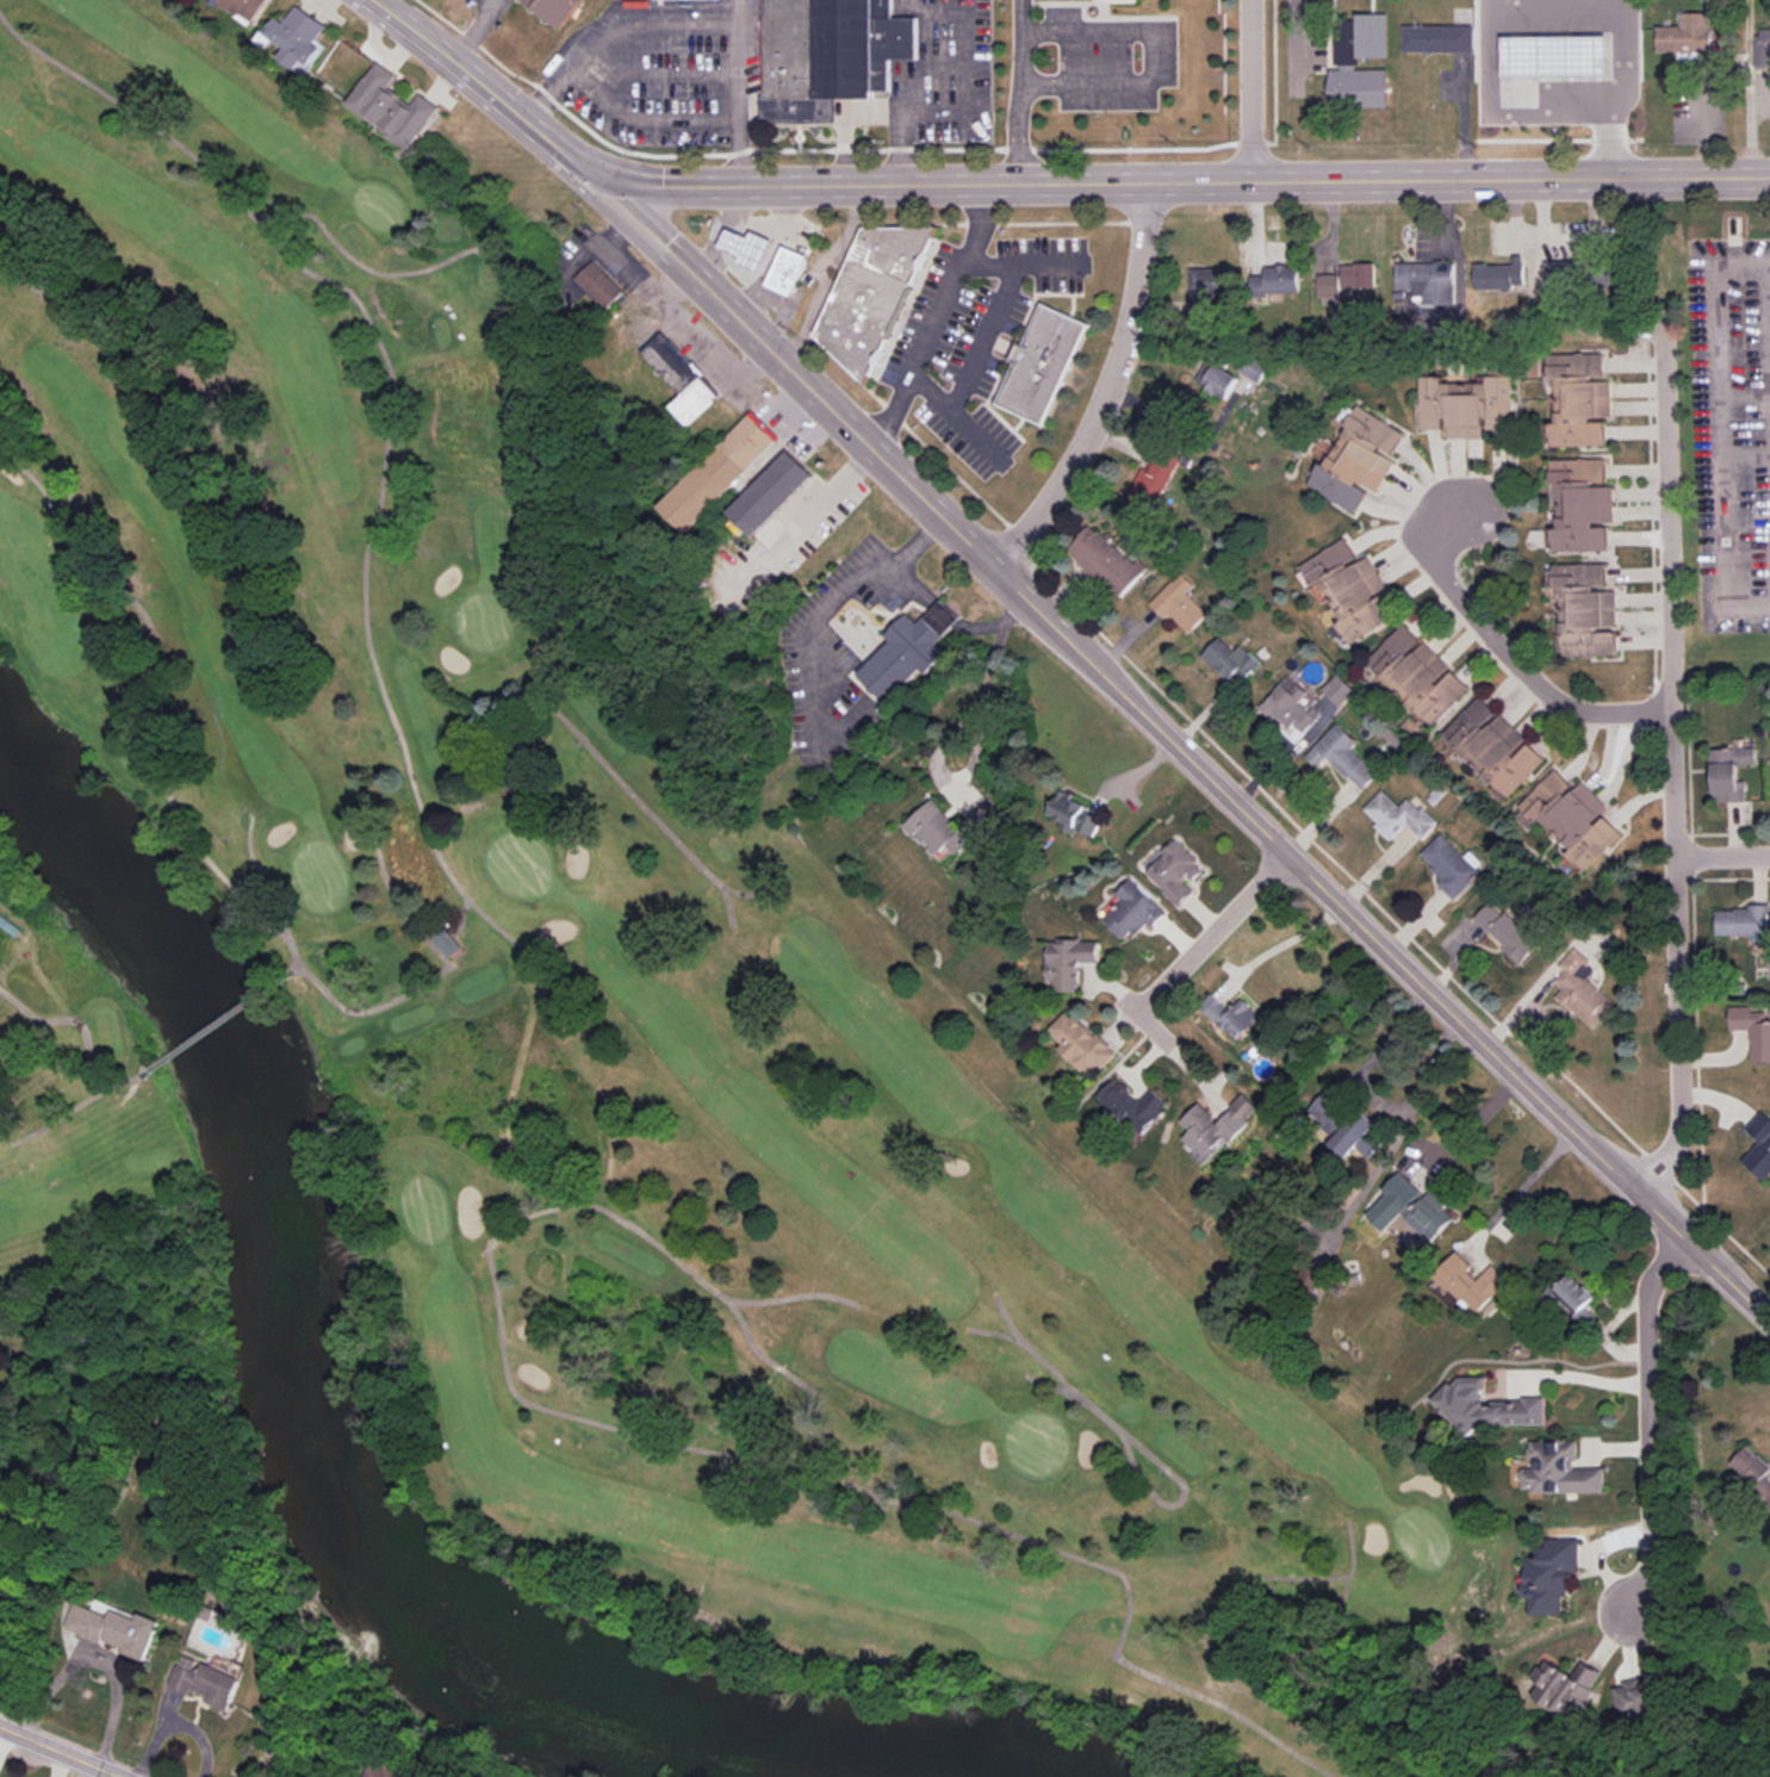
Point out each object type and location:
building: (579, 0)
building: (683, 0)
road: (368, 1)
building: (1113, 1)
building: (249, 7)
road: (1529, 7)
building: (554, 10)
road: (1019, 15)
road: (691, 25)
road: (471, 32)
building: (1687, 35)
building: (299, 38)
building: (1437, 38)
building: (1763, 48)
building: (1552, 54)
building: (827, 56)
road: (1148, 57)
building: (1344, 64)
road: (484, 91)
road: (1253, 91)
building: (393, 106)
road: (943, 106)
road: (1018, 107)
road: (1459, 179)
traffic signals: (607, 182)
road: (877, 185)
building: (745, 249)
road: (1048, 265)
building: (785, 272)
building: (1559, 272)
road: (827, 274)
building: (1499, 274)
building: (1275, 280)
building: (1346, 281)
building: (1428, 281)
building: (597, 286)
building: (1210, 288)
building: (870, 294)
road: (932, 316)
road: (981, 341)
building: (1039, 366)
building: (1255, 367)
road: (800, 377)
building: (1217, 379)
building: (679, 380)
road: (1110, 391)
building: (1579, 399)
building: (1465, 405)
road: (975, 436)
road: (1719, 436)
building: (1358, 459)
building: (719, 473)
building: (1149, 485)
building: (769, 495)
building: (1582, 504)
road: (808, 518)
building: (1105, 560)
road: (915, 585)
building: (1349, 589)
building: (1180, 603)
building: (1584, 609)
road: (944, 615)
road: (815, 619)
road: (994, 626)
road: (1503, 646)
building: (908, 651)
building: (1230, 661)
building: (1418, 675)
building: (1339, 689)
road: (950, 735)
building: (1493, 746)
building: (1342, 756)
road: (1670, 766)
building: (1729, 773)
building: (1073, 814)
building: (1397, 815)
building: (1571, 819)
building: (952, 826)
road: (1724, 860)
building: (1452, 864)
building: (1175, 872)
building: (1132, 911)
building: (1743, 921)
building: (1505, 931)
road: (1212, 933)
building: (446, 943)
road: (1281, 943)
road: (1383, 945)
building: (1068, 962)
building: (1582, 990)
park: (596, 1008)
building: (1230, 1015)
road: (1144, 1023)
building: (1752, 1030)
building: (1080, 1043)
road: (1373, 1096)
road: (1447, 1100)
building: (1132, 1105)
building: (1215, 1126)
building: (1344, 1126)
building: (1759, 1147)
road: (1532, 1186)
building: (1410, 1207)
building: (1308, 1278)
building: (1470, 1281)
building: (1572, 1293)
building: (1585, 1317)
road: (1582, 1375)
building: (1516, 1405)
road: (1650, 1423)
river: (321, 1428)
building: (1558, 1470)
building: (1752, 1473)
building: (1549, 1574)
building: (111, 1629)
building: (204, 1683)
building: (1565, 1686)
building: (1637, 1697)
road: (174, 1721)
road: (2, 1734)
road: (58, 1751)
road: (56, 1764)
building: (387, 1770)

